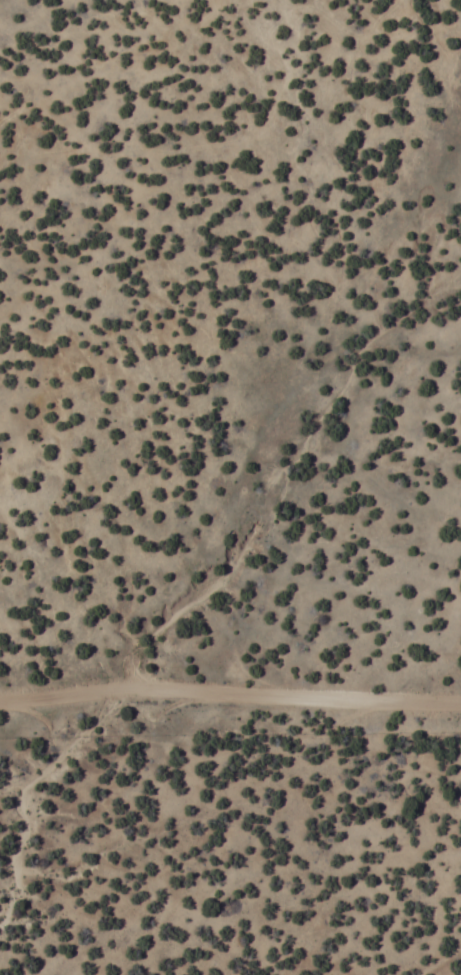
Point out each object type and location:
road: (230, 696)

